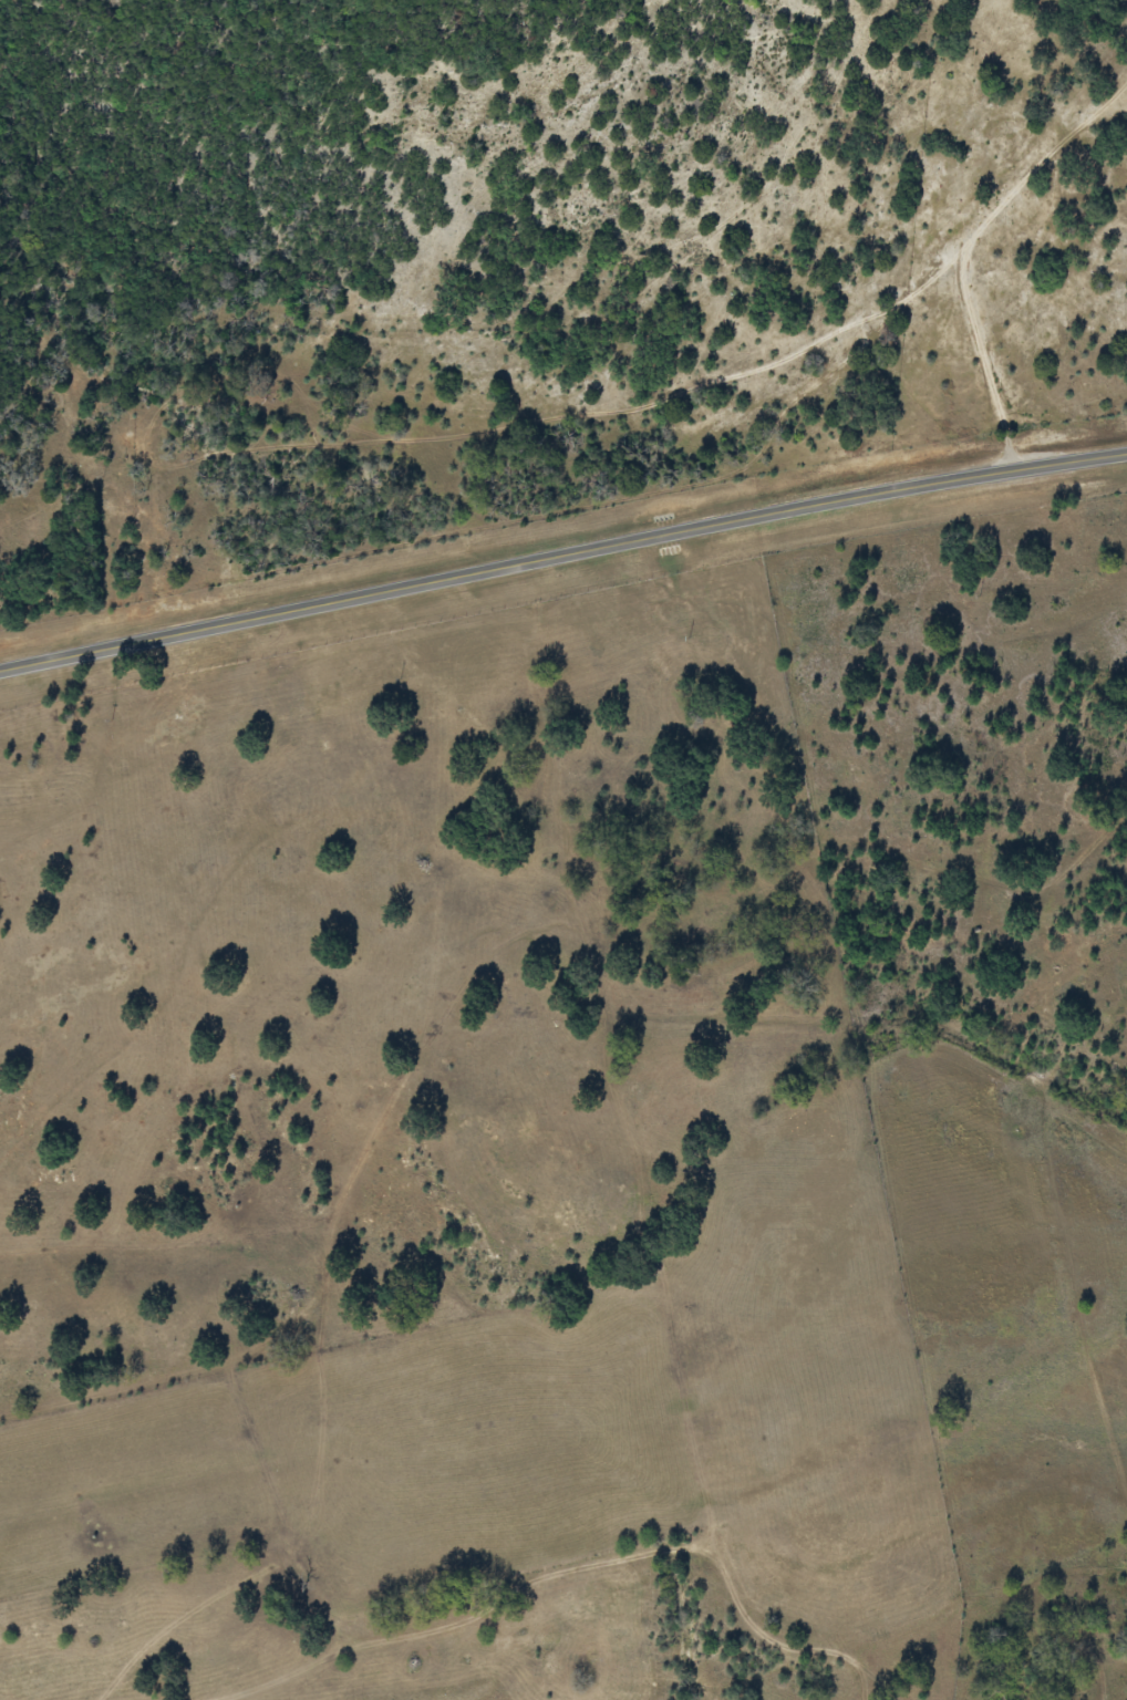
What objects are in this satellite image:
road: (972, 248)
road: (562, 553)

